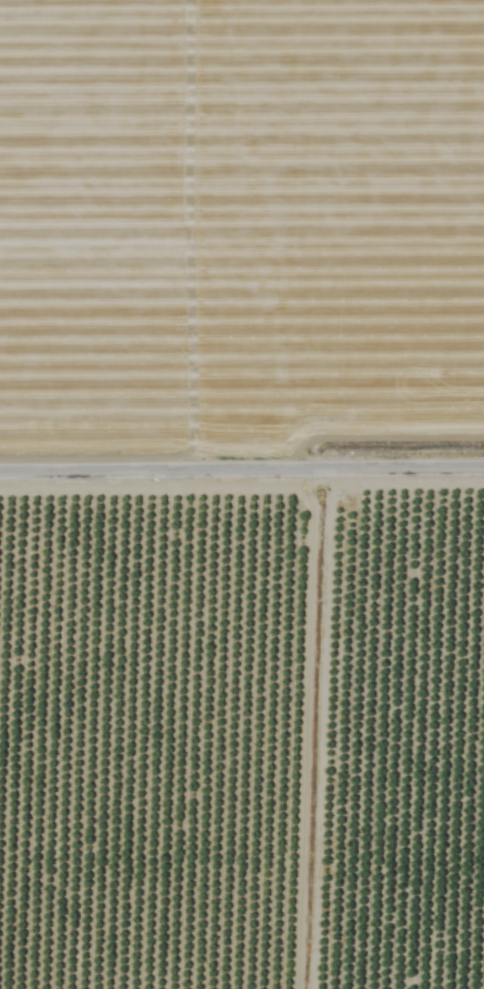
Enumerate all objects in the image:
road: (241, 469)
crop: (242, 494)

